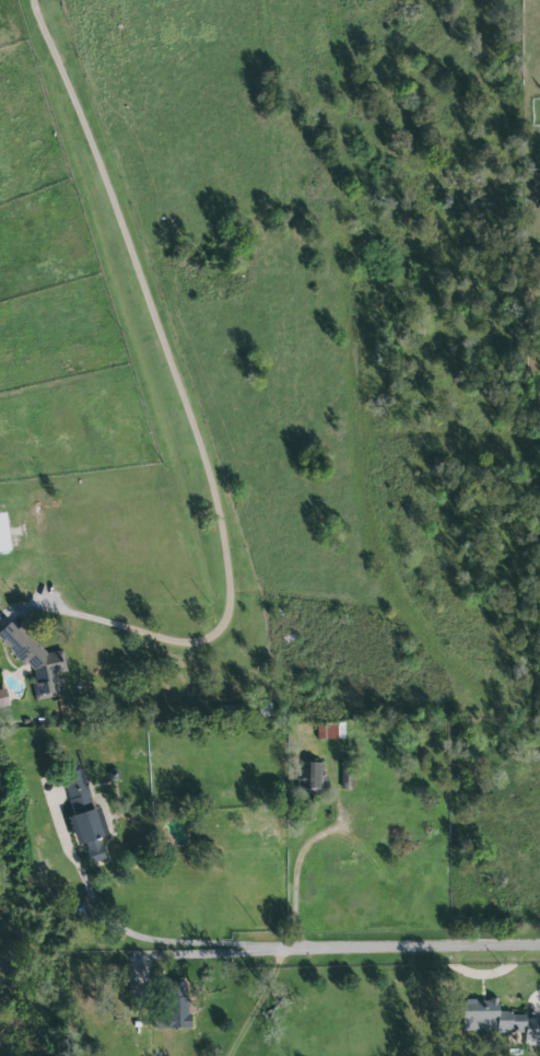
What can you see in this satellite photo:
road: (483, 426)
road: (200, 427)
building: (4, 533)
building: (36, 661)
building: (331, 731)
building: (314, 776)
building: (85, 816)
road: (52, 817)
road: (295, 877)
road: (332, 947)
road: (258, 1006)
building: (175, 1009)
building: (497, 1020)

